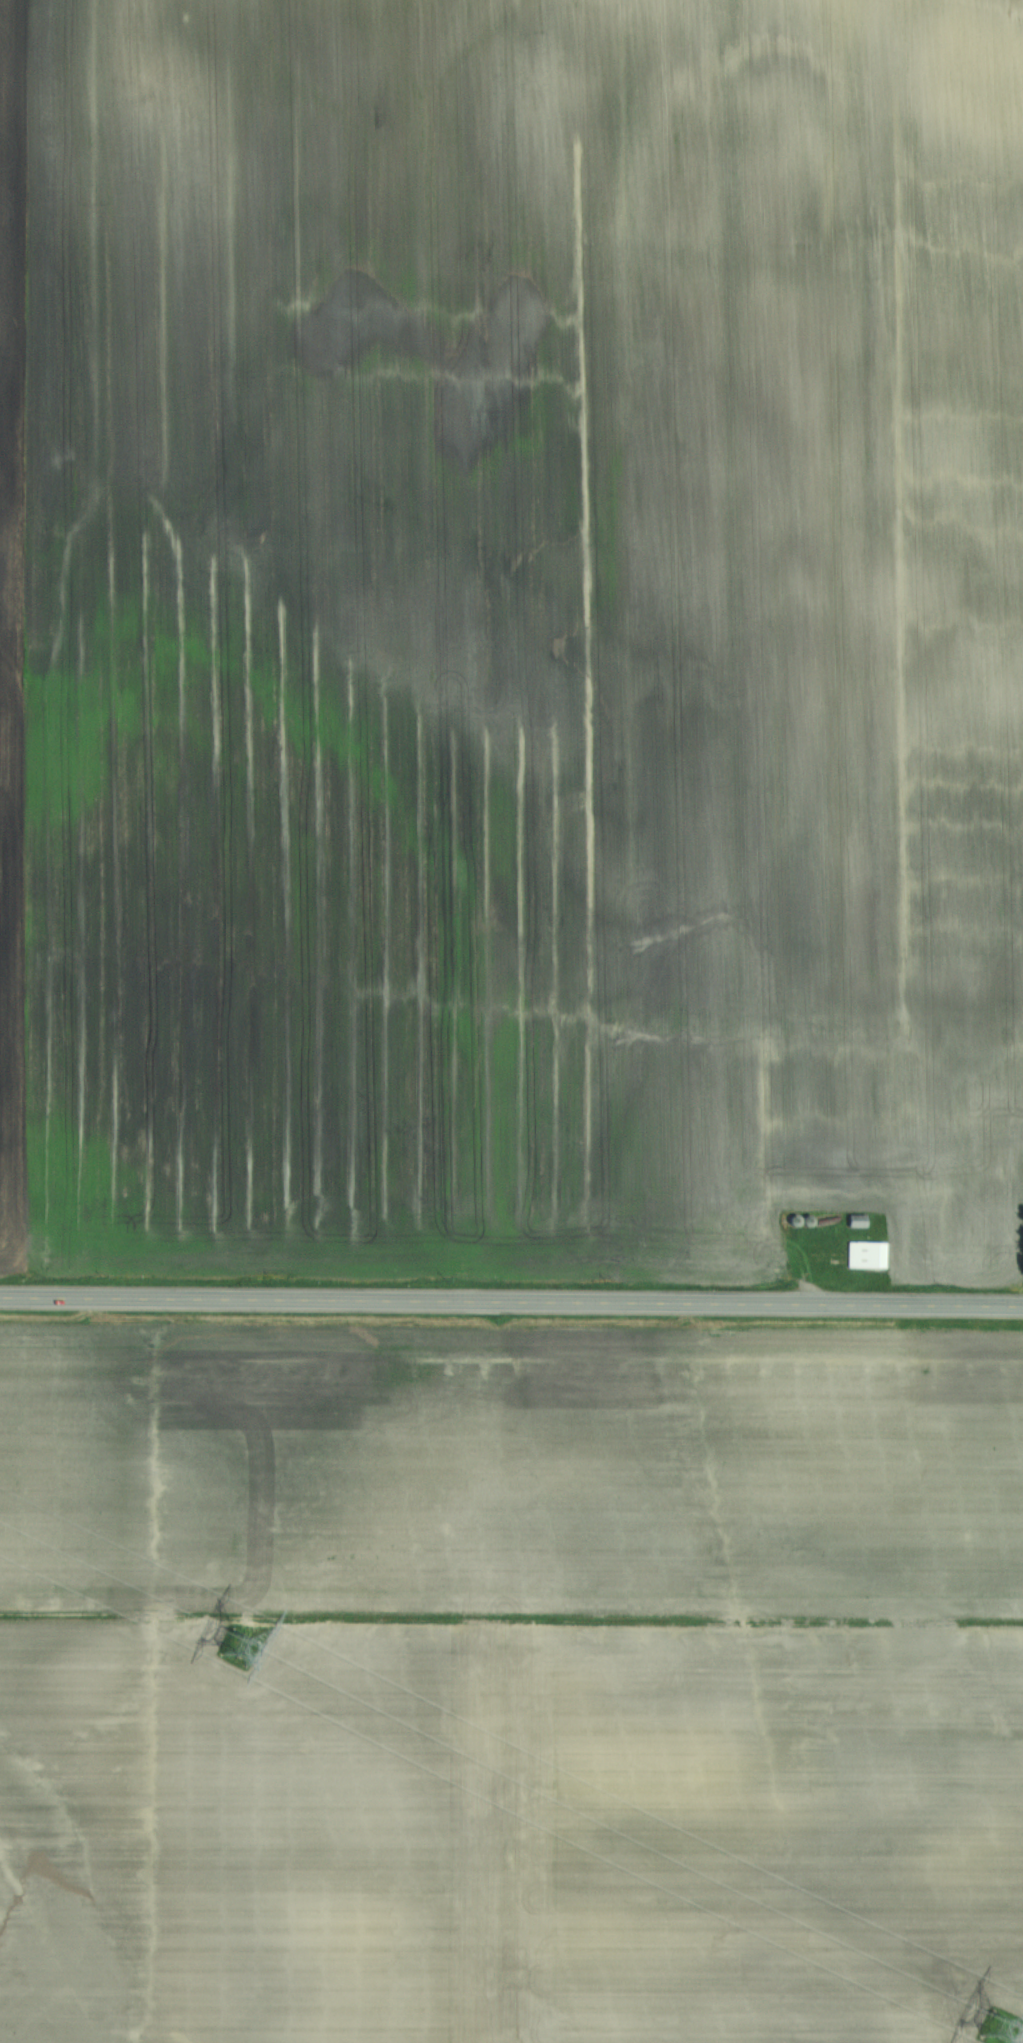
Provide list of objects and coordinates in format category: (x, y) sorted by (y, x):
building: (859, 1221)
building: (868, 1255)
road: (511, 1301)
power tower: (240, 1648)
power tower: (995, 2031)

